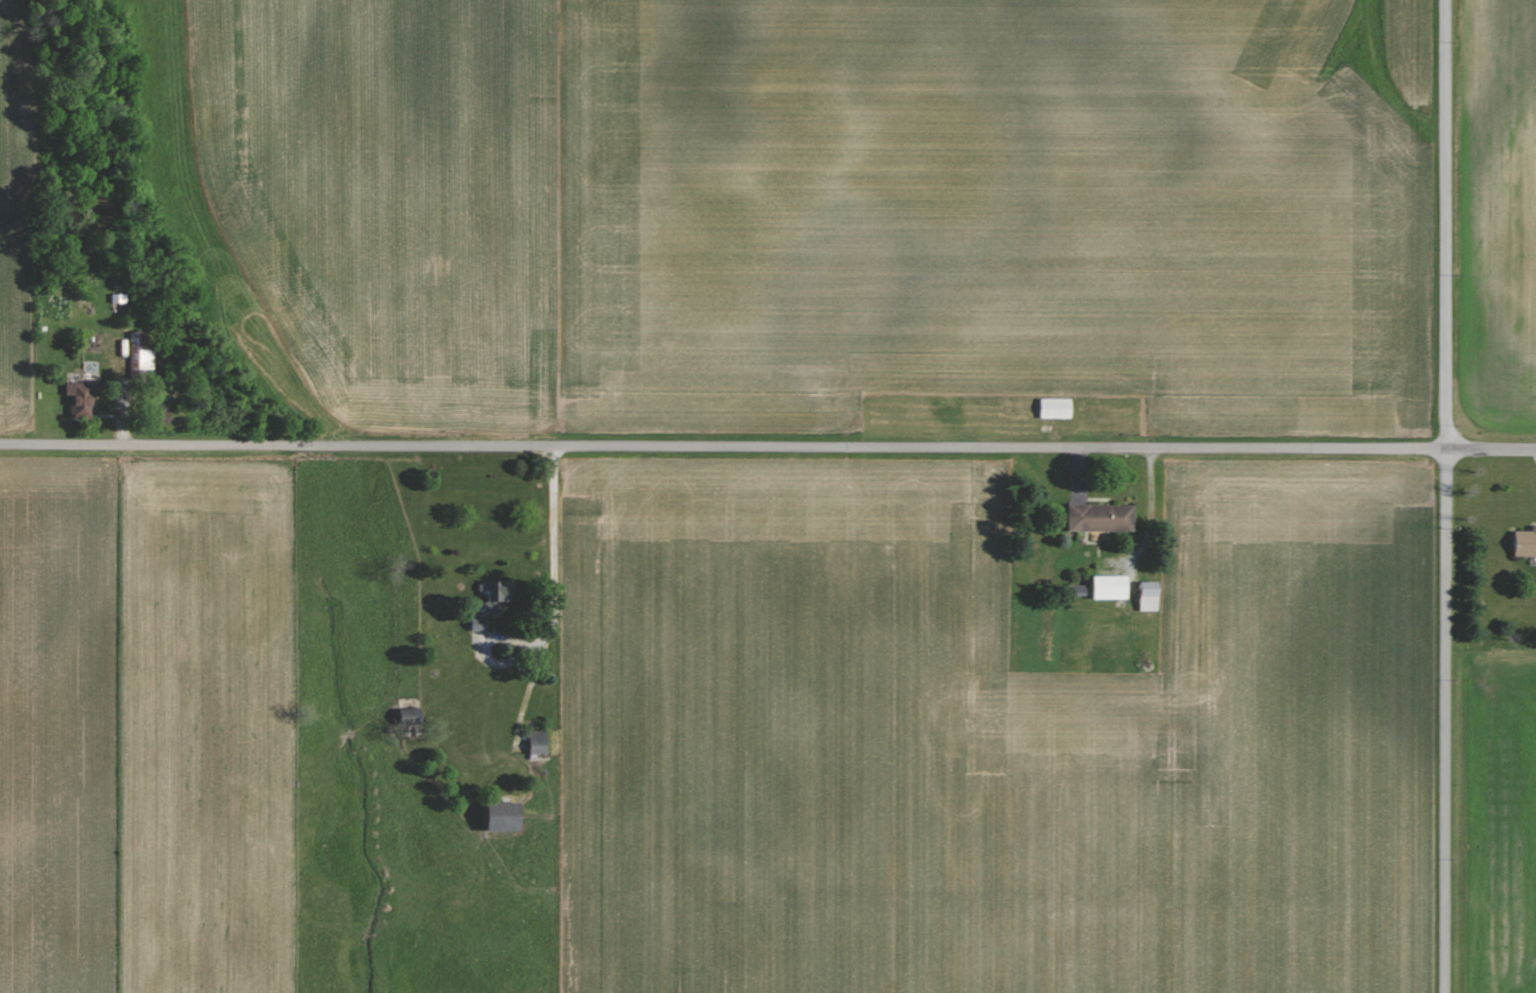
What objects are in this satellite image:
building: (142, 351)
building: (83, 400)
building: (1051, 408)
road: (723, 446)
road: (1491, 448)
road: (1446, 496)
building: (1096, 517)
building: (1522, 543)
road: (553, 574)
building: (1102, 587)
building: (490, 596)
building: (1141, 596)
building: (414, 714)
building: (531, 747)
building: (509, 815)

